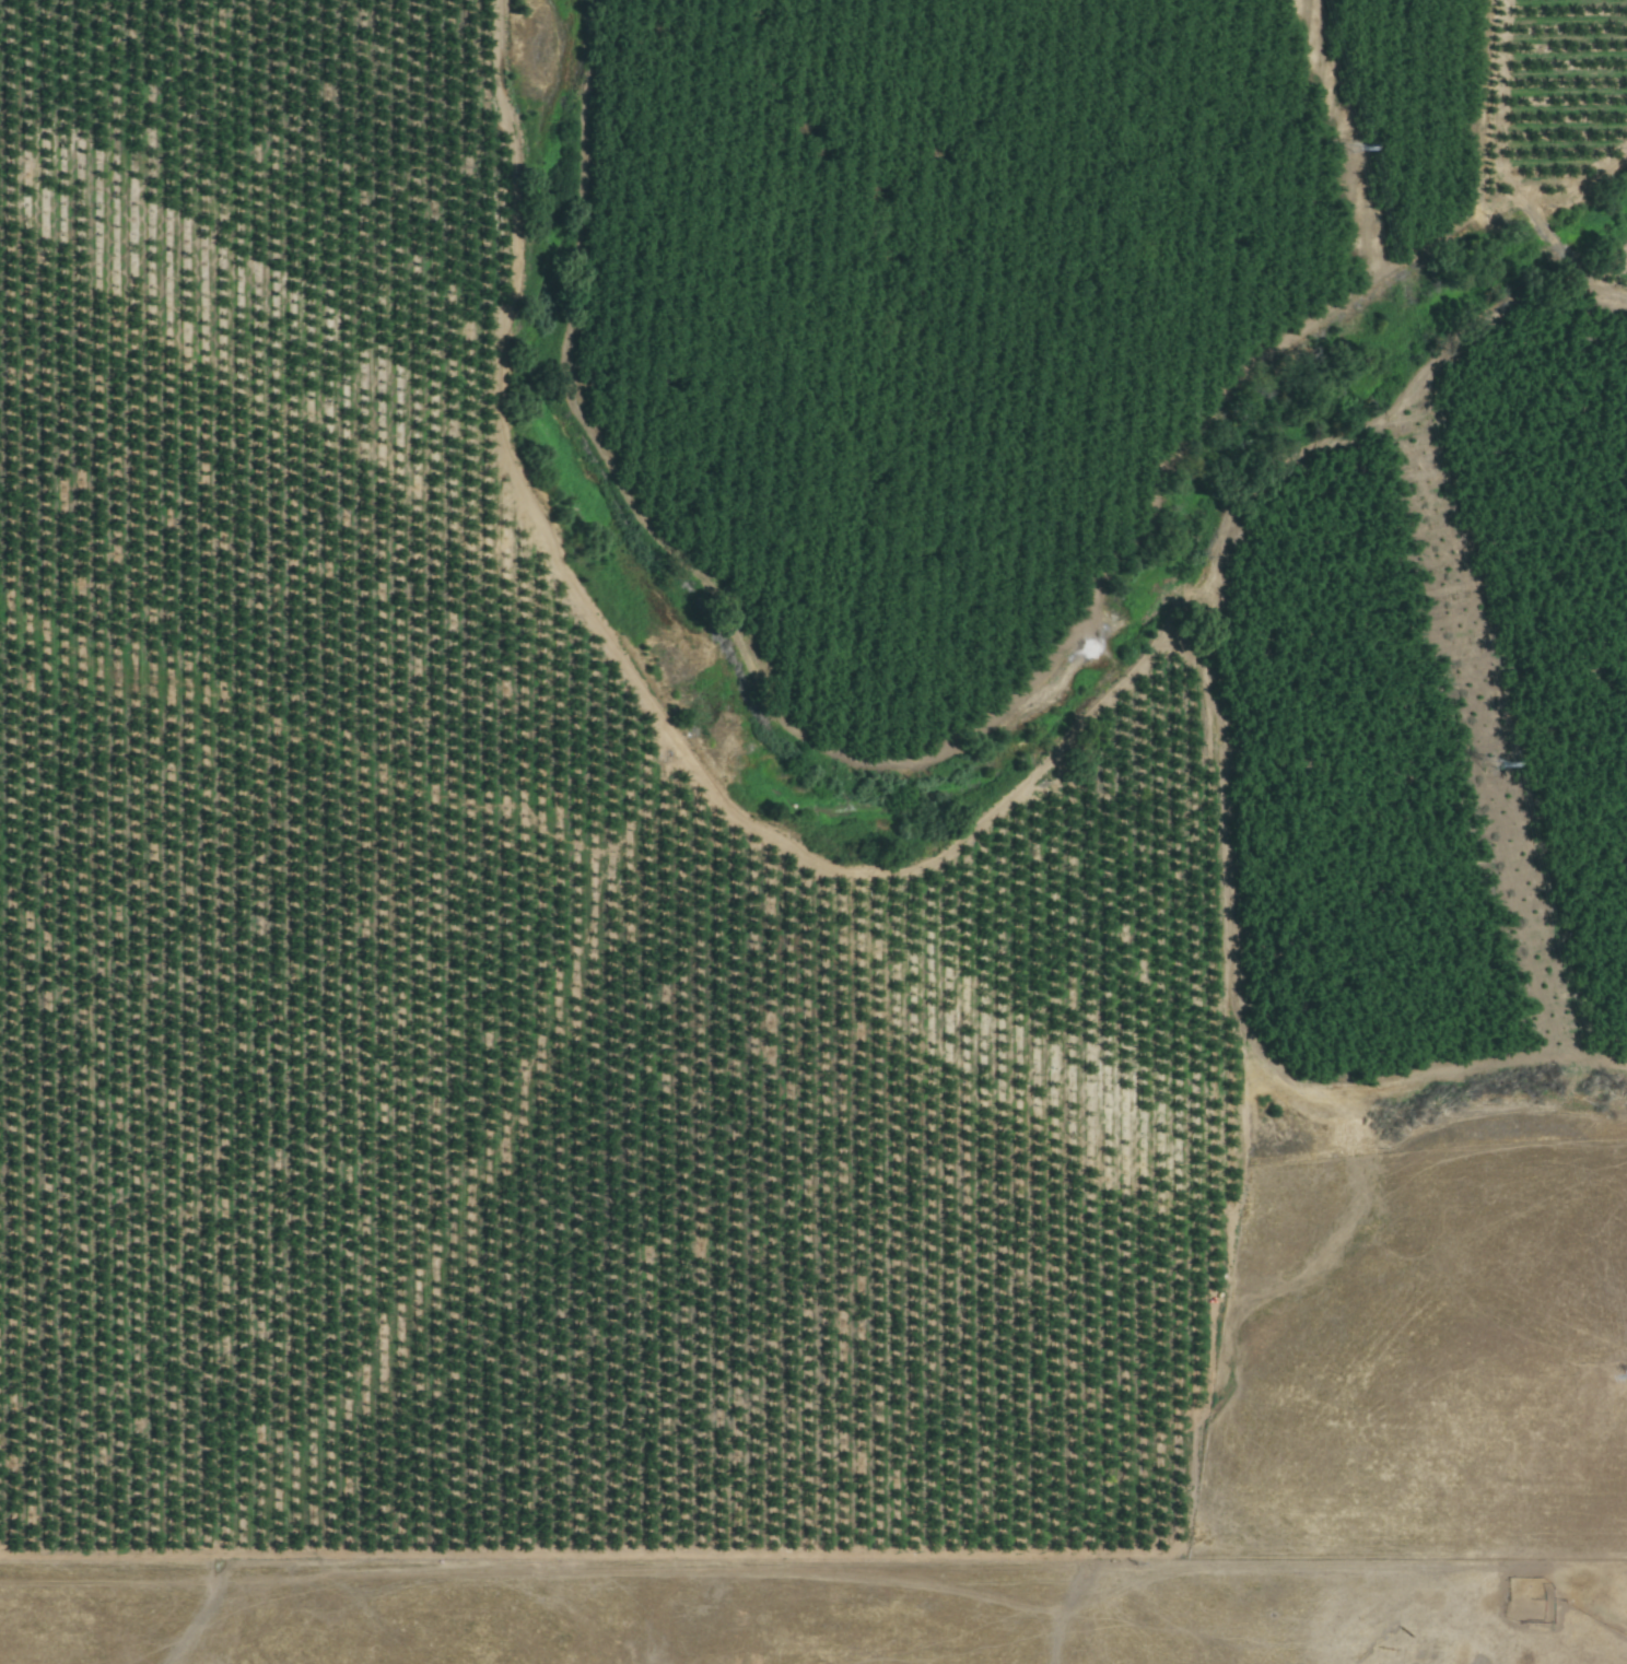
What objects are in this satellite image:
power tower: (1344, 145)
power tower: (1495, 765)

